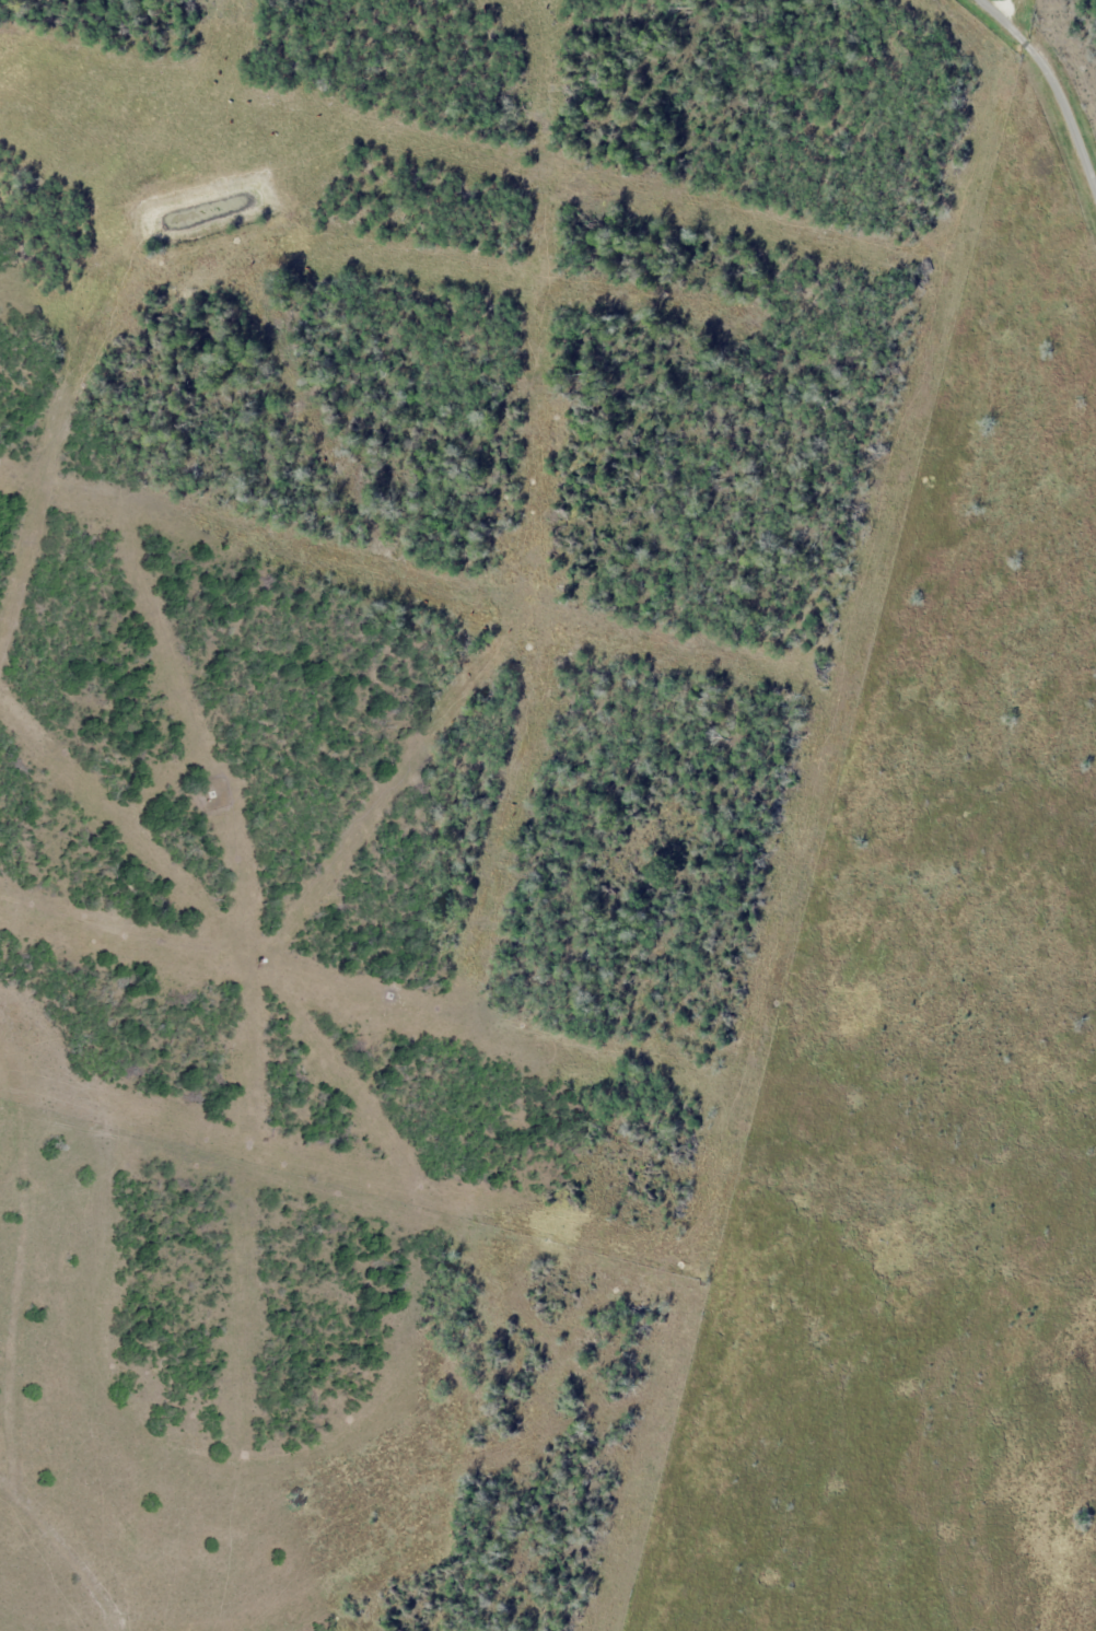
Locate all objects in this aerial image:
road: (1056, 79)

